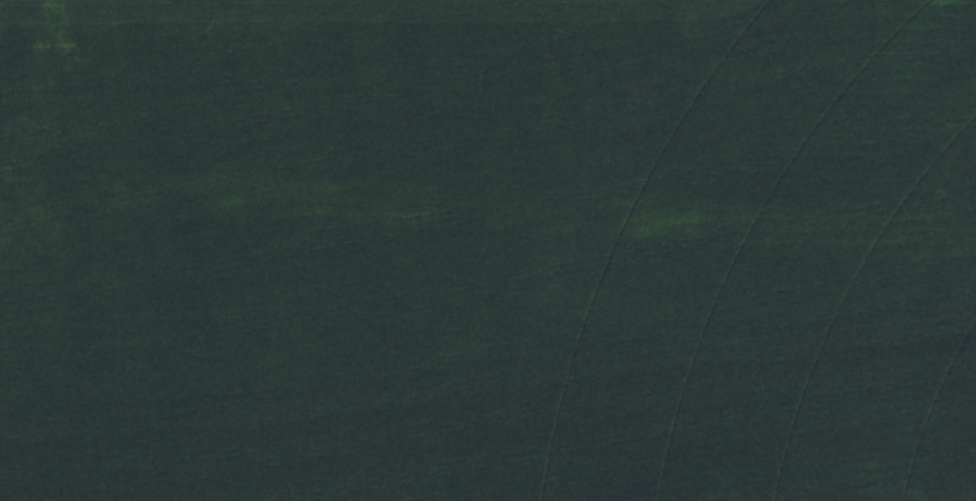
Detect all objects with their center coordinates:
crop: (488, 250)

